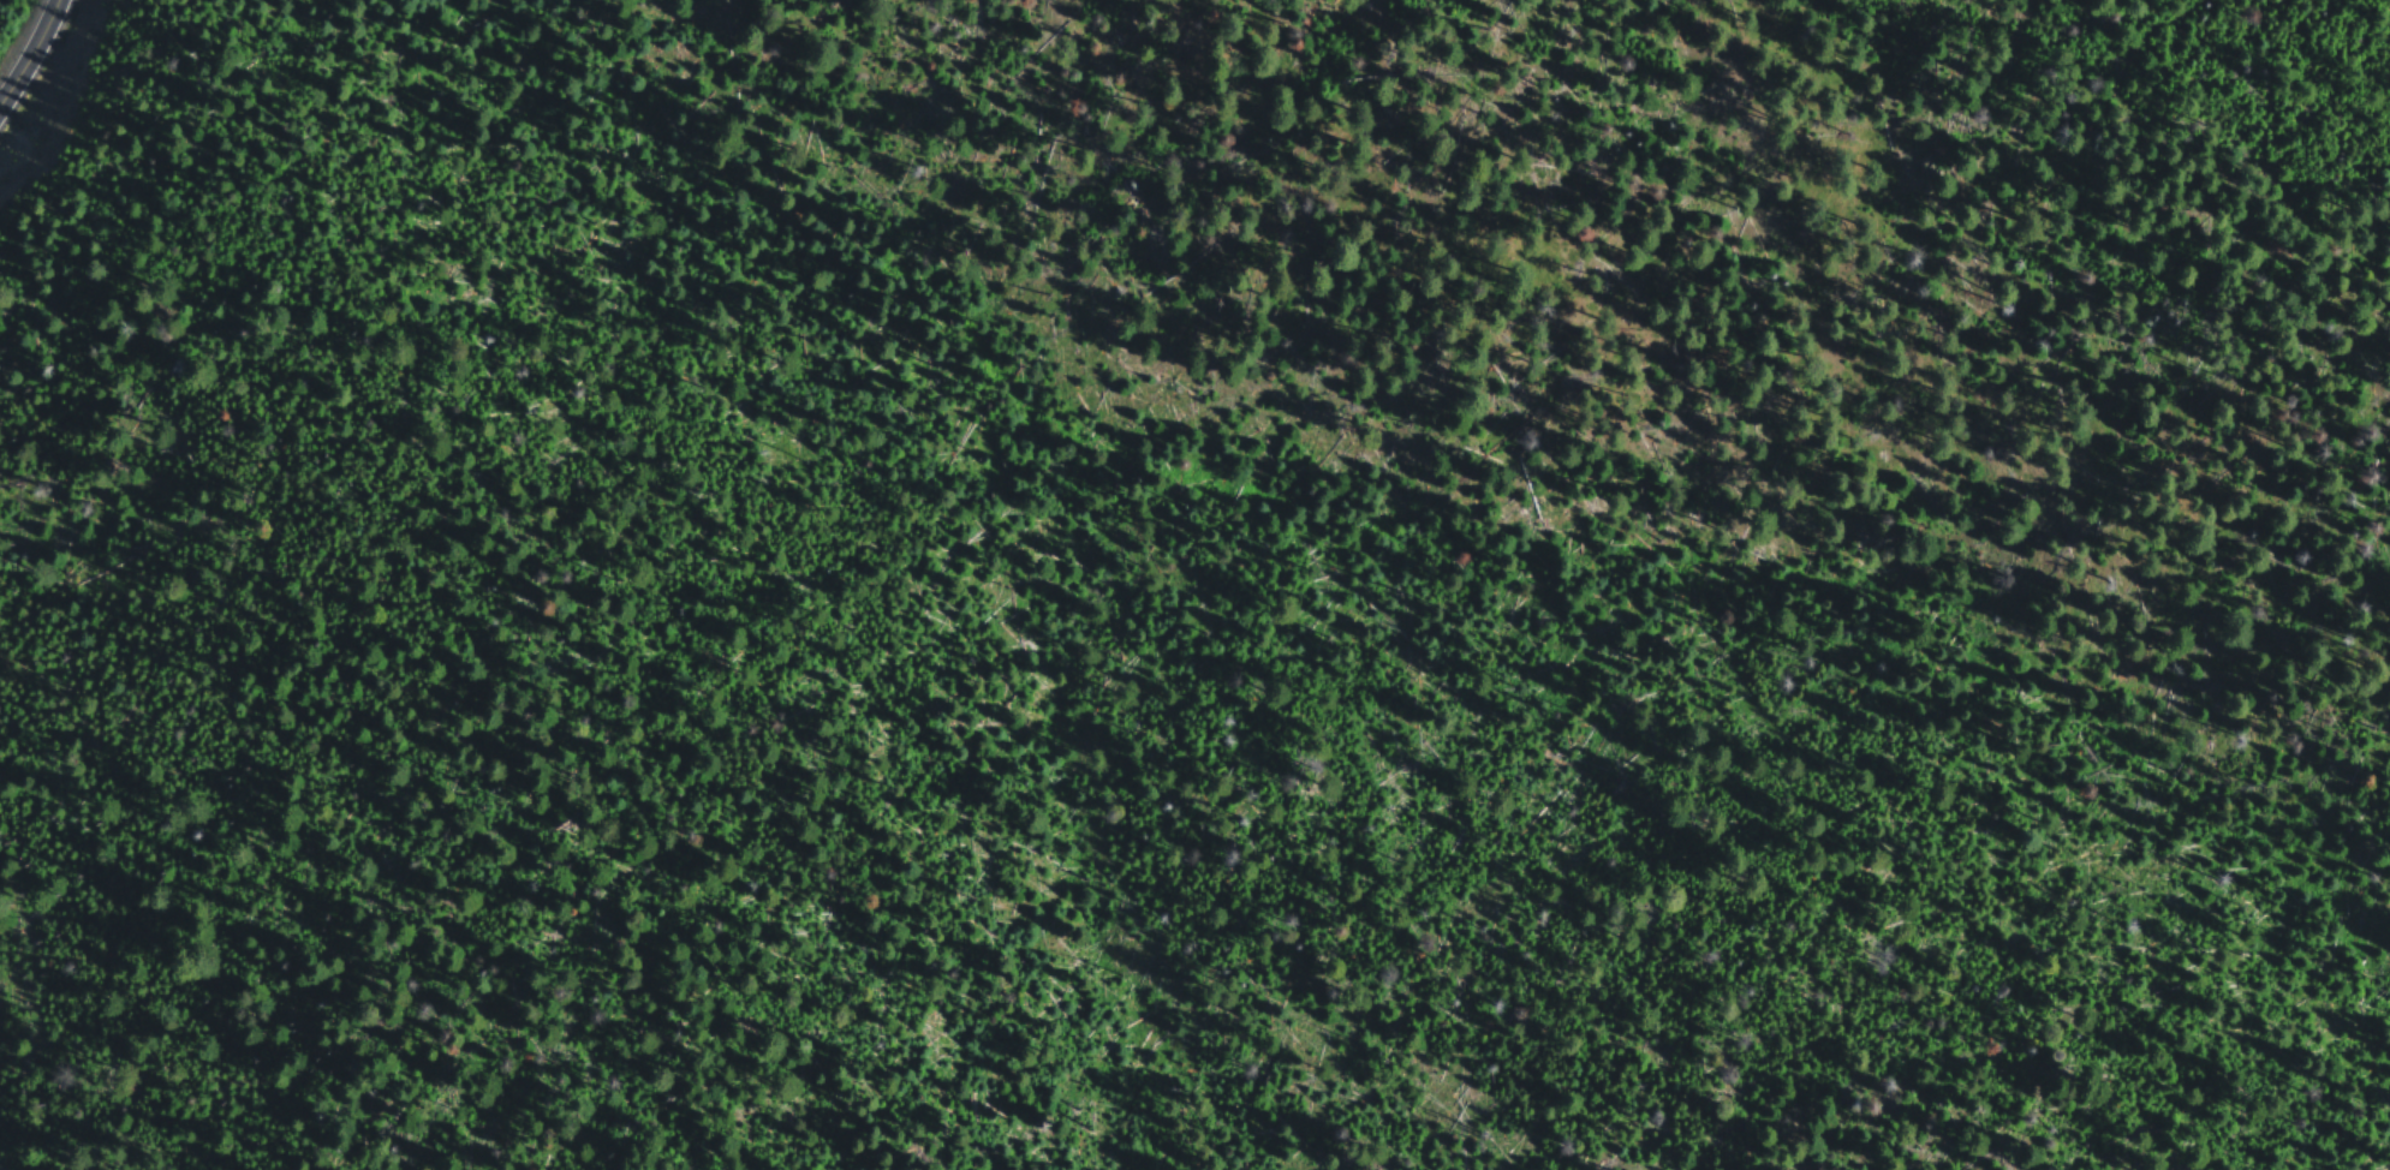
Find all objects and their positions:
road: (31, 55)

